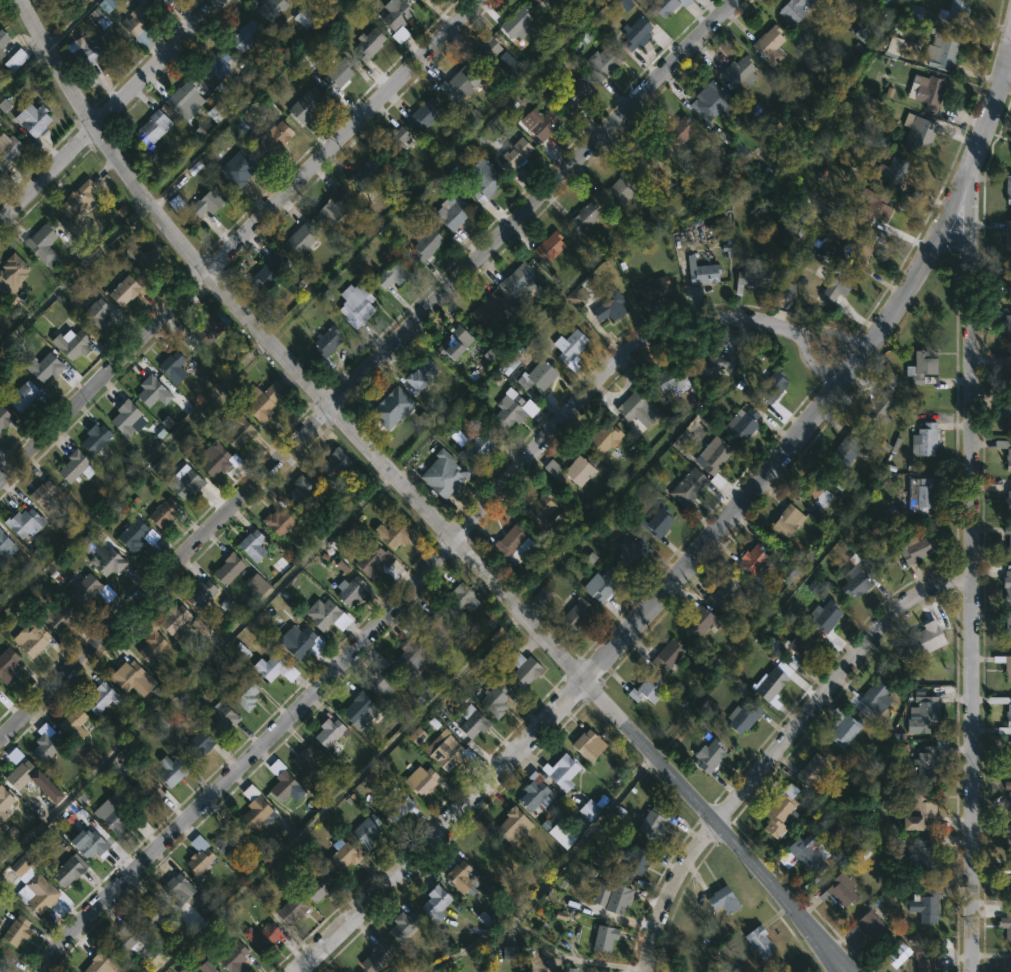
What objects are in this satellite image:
building: (419, 0)
building: (422, 0)
building: (827, 0)
building: (546, 3)
building: (663, 6)
building: (270, 8)
building: (790, 10)
building: (954, 11)
building: (395, 15)
building: (304, 17)
building: (142, 19)
building: (512, 22)
building: (635, 33)
building: (240, 36)
building: (3, 42)
building: (366, 43)
building: (769, 45)
building: (91, 46)
building: (482, 52)
building: (941, 52)
building: (15, 61)
building: (600, 62)
road: (59, 63)
road: (159, 63)
building: (213, 65)
building: (737, 73)
road: (1006, 73)
building: (335, 75)
building: (458, 82)
building: (926, 92)
building: (571, 94)
building: (183, 98)
building: (710, 101)
building: (301, 107)
building: (422, 112)
building: (36, 118)
building: (543, 122)
building: (152, 128)
building: (675, 131)
building: (918, 134)
building: (271, 135)
road: (347, 137)
building: (393, 142)
building: (7, 152)
building: (514, 155)
building: (647, 163)
building: (242, 171)
building: (892, 171)
road: (48, 174)
building: (361, 174)
building: (480, 180)
building: (619, 188)
building: (1008, 189)
building: (77, 200)
road: (147, 201)
building: (203, 203)
building: (331, 208)
building: (872, 208)
building: (582, 216)
building: (450, 217)
building: (1007, 235)
building: (298, 237)
building: (44, 243)
building: (425, 245)
building: (546, 247)
building: (858, 249)
building: (147, 258)
building: (699, 271)
building: (14, 273)
building: (261, 274)
building: (390, 274)
building: (751, 275)
building: (514, 279)
building: (1006, 282)
building: (833, 286)
building: (651, 288)
building: (124, 290)
building: (782, 292)
building: (355, 304)
building: (607, 307)
building: (483, 309)
building: (93, 314)
building: (1002, 326)
building: (208, 328)
building: (324, 342)
building: (451, 343)
building: (71, 344)
building: (569, 348)
building: (712, 362)
building: (47, 367)
building: (170, 367)
building: (923, 368)
road: (367, 369)
building: (1006, 369)
road: (103, 375)
building: (418, 375)
building: (537, 375)
building: (670, 381)
building: (772, 385)
building: (149, 390)
building: (25, 396)
building: (260, 402)
building: (390, 407)
building: (634, 407)
building: (510, 408)
building: (874, 411)
building: (1007, 415)
building: (125, 417)
building: (5, 418)
building: (739, 425)
building: (236, 432)
road: (799, 432)
building: (94, 438)
building: (602, 438)
building: (924, 439)
building: (477, 447)
building: (843, 449)
building: (712, 454)
building: (1007, 457)
building: (215, 461)
building: (331, 465)
building: (74, 466)
building: (574, 471)
building: (441, 474)
road: (393, 476)
building: (180, 482)
building: (686, 487)
building: (299, 490)
building: (813, 491)
building: (919, 494)
building: (47, 496)
building: (1008, 500)
road: (974, 501)
building: (538, 511)
building: (160, 513)
building: (655, 520)
building: (27, 521)
building: (277, 521)
building: (785, 521)
building: (132, 535)
building: (391, 536)
building: (5, 543)
building: (249, 546)
building: (510, 546)
building: (1009, 547)
building: (913, 549)
building: (630, 552)
building: (370, 558)
building: (750, 560)
building: (108, 562)
building: (226, 569)
building: (789, 570)
road: (423, 577)
building: (855, 580)
building: (1006, 583)
building: (601, 585)
building: (254, 586)
building: (86, 588)
building: (349, 590)
building: (197, 594)
building: (729, 600)
building: (458, 601)
building: (318, 612)
building: (574, 614)
building: (61, 615)
building: (823, 616)
building: (171, 617)
building: (698, 621)
building: (1008, 626)
building: (432, 629)
building: (36, 637)
building: (297, 641)
building: (919, 641)
building: (790, 647)
building: (152, 648)
building: (665, 655)
building: (406, 657)
building: (271, 663)
building: (8, 664)
building: (1004, 664)
building: (520, 668)
building: (130, 677)
building: (378, 678)
building: (767, 685)
building: (645, 688)
building: (1, 690)
building: (245, 693)
building: (873, 693)
building: (493, 697)
building: (101, 698)
building: (358, 709)
building: (1008, 714)
building: (921, 715)
building: (742, 716)
building: (220, 717)
building: (471, 722)
building: (73, 724)
building: (841, 727)
building: (326, 731)
building: (586, 744)
building: (194, 745)
building: (47, 747)
road: (781, 748)
building: (446, 753)
building: (1007, 754)
building: (708, 757)
building: (926, 759)
building: (306, 761)
building: (167, 769)
building: (810, 770)
building: (558, 771)
building: (23, 774)
building: (280, 780)
building: (418, 780)
building: (531, 792)
building: (147, 794)
building: (1008, 795)
building: (5, 801)
building: (392, 803)
building: (590, 807)
building: (253, 810)
building: (778, 810)
building: (917, 813)
building: (115, 819)
road: (715, 822)
building: (511, 823)
building: (651, 823)
road: (441, 827)
building: (363, 831)
building: (555, 832)
building: (225, 836)
road: (582, 838)
building: (1008, 842)
building: (90, 845)
building: (805, 851)
building: (340, 854)
building: (196, 855)
building: (921, 857)
building: (631, 861)
building: (21, 868)
building: (68, 868)
building: (460, 876)
building: (1007, 885)
building: (314, 888)
building: (174, 889)
building: (839, 890)
building: (40, 892)
building: (615, 899)
building: (722, 899)
building: (434, 903)
building: (924, 906)
building: (289, 908)
building: (150, 913)
building: (1006, 924)
building: (403, 925)
building: (868, 927)
building: (19, 931)
road: (529, 934)
building: (260, 937)
building: (604, 938)
building: (758, 942)
building: (129, 943)
building: (1, 953)
building: (374, 956)
building: (230, 958)
building: (2, 962)
building: (924, 962)
building: (99, 963)
building: (1008, 963)
building: (205, 965)
building: (0, 971)

